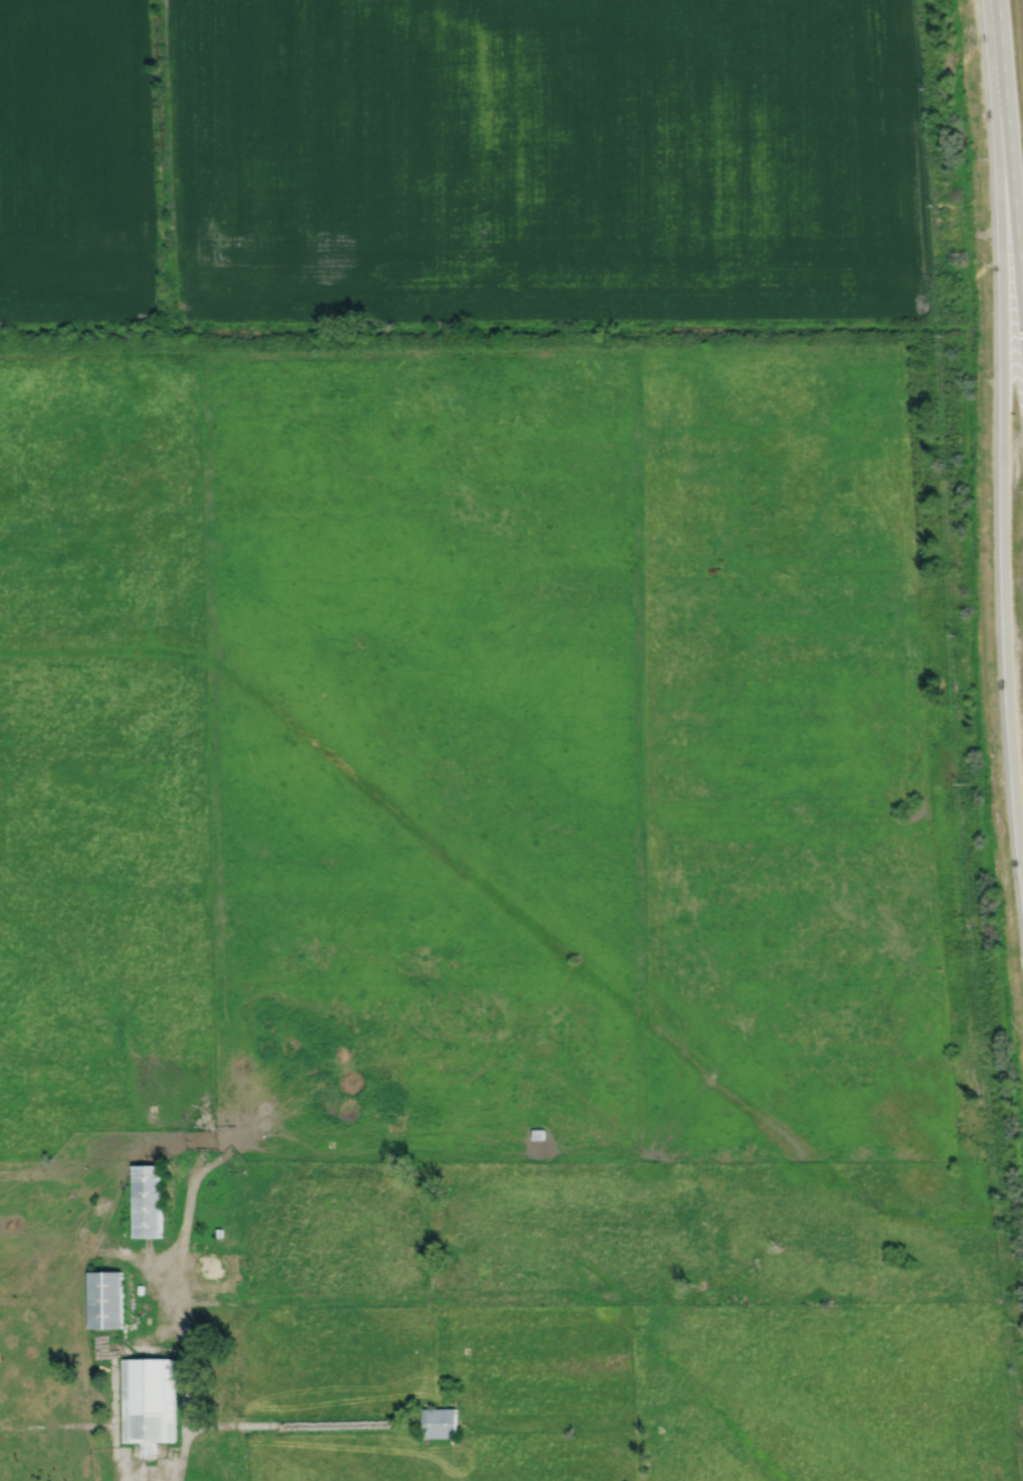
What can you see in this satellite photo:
road: (1010, 152)
crop: (547, 159)
crop: (76, 160)
road: (1003, 437)
building: (537, 1134)
building: (146, 1201)
building: (104, 1300)
building: (147, 1401)
road: (186, 1406)
building: (439, 1421)
road: (180, 1454)

